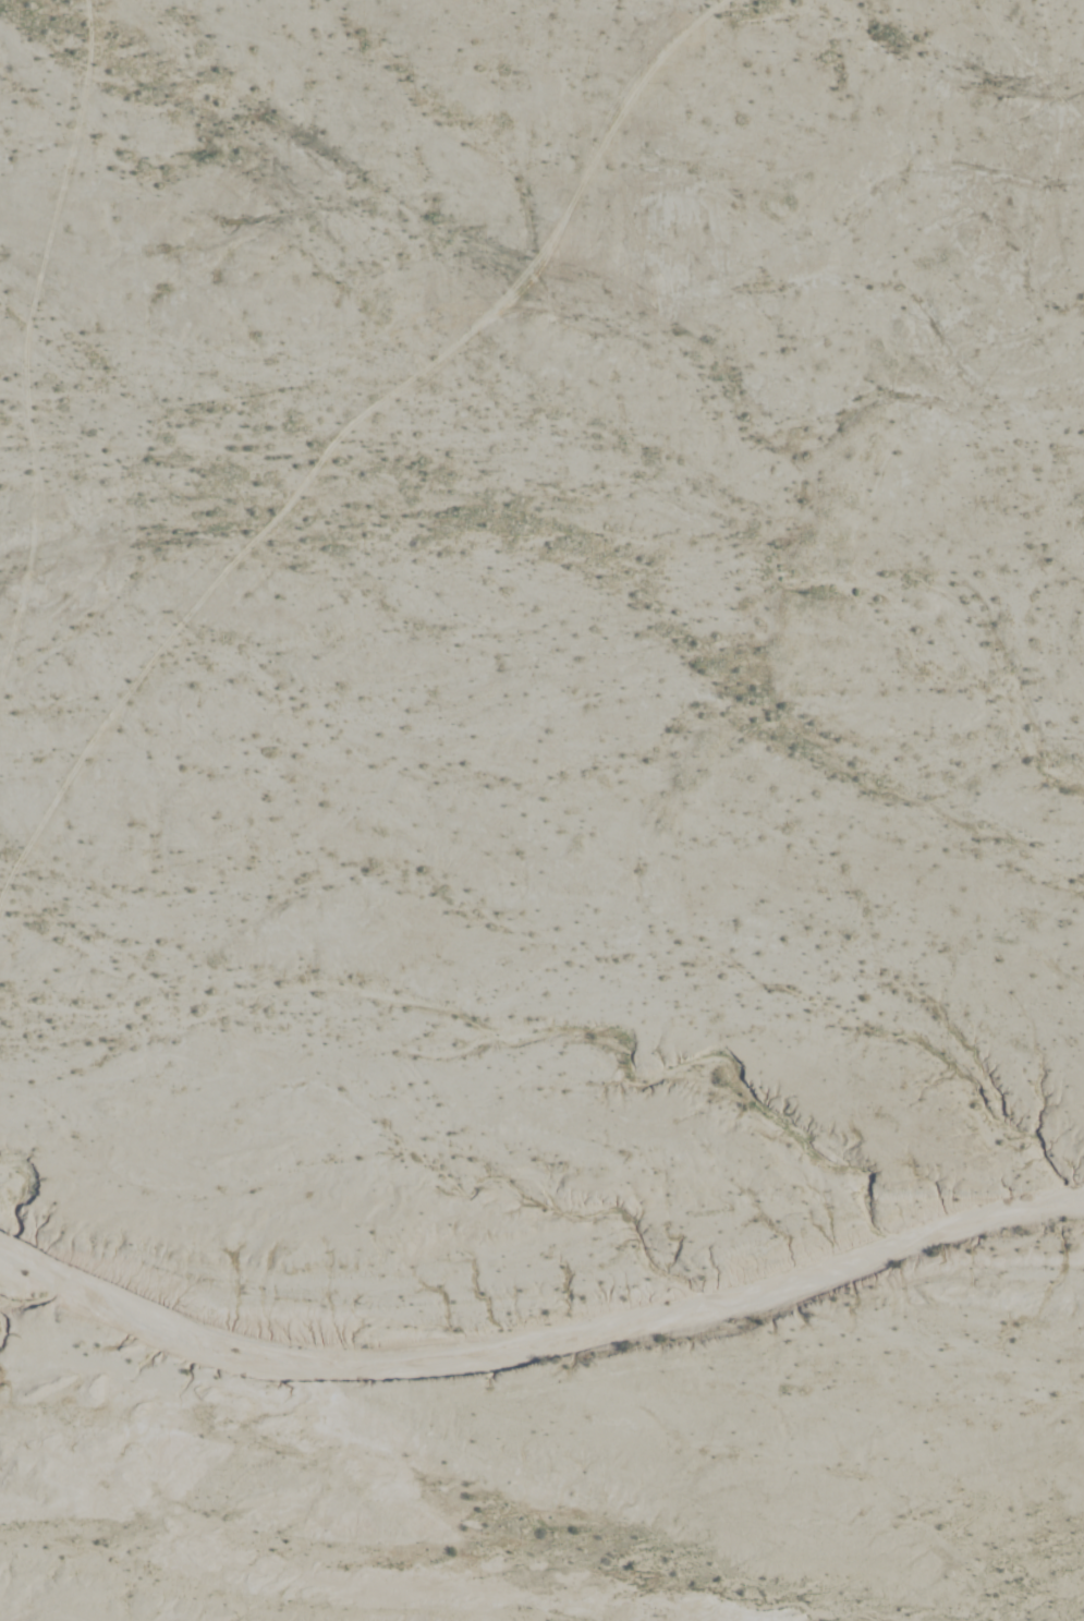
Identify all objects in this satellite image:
road: (539, 1341)

